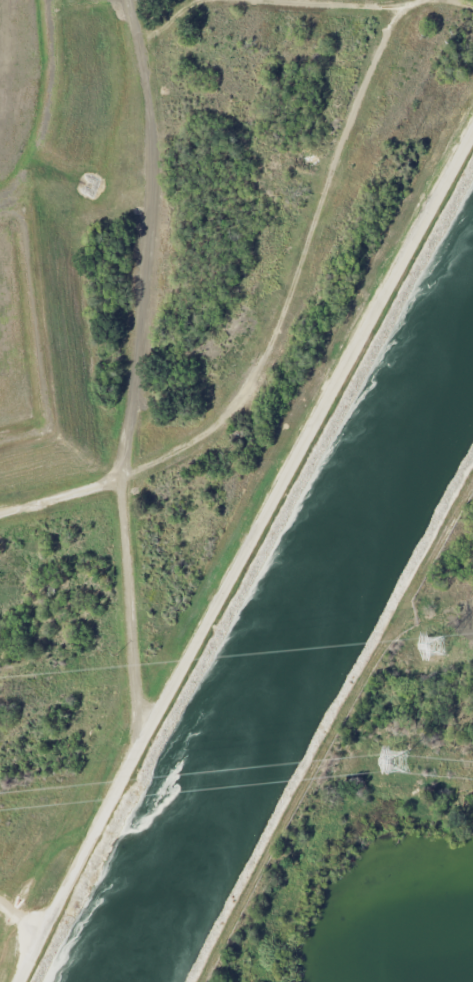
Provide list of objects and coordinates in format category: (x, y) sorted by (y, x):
road: (135, 377)
road: (60, 498)
road: (244, 559)
power tower: (436, 647)
power tower: (396, 761)
road: (22, 916)

